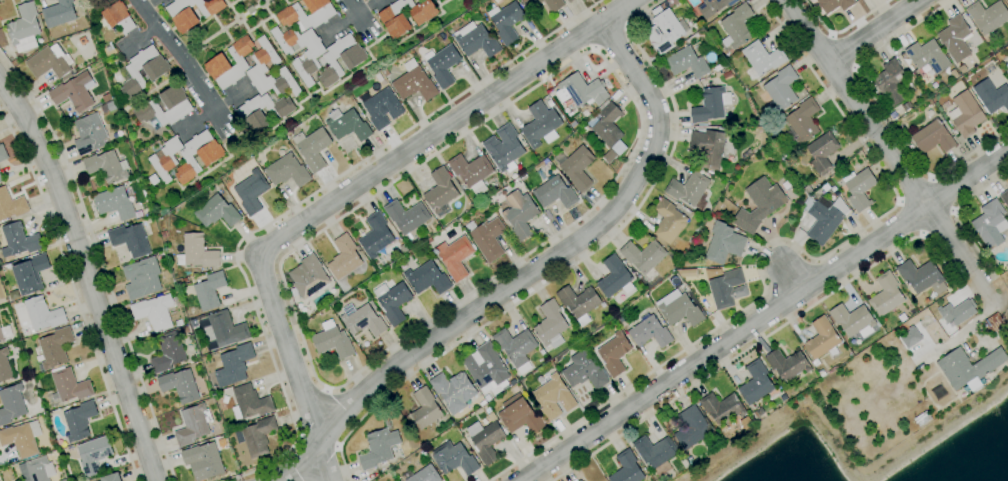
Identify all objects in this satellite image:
building: (436, 0)
building: (496, 1)
building: (569, 1)
building: (1007, 1)
road: (262, 2)
road: (148, 4)
building: (834, 4)
building: (554, 7)
building: (713, 7)
road: (231, 8)
building: (192, 12)
building: (59, 13)
road: (356, 13)
building: (987, 16)
building: (117, 18)
building: (303, 18)
road: (349, 18)
building: (393, 19)
building: (507, 21)
building: (736, 26)
road: (626, 27)
building: (25, 28)
road: (223, 29)
road: (840, 29)
road: (872, 30)
building: (665, 31)
road: (371, 35)
road: (609, 35)
road: (269, 36)
road: (141, 38)
building: (955, 38)
building: (476, 40)
road: (594, 48)
road: (591, 51)
road: (844, 51)
building: (927, 56)
building: (311, 57)
building: (762, 58)
road: (181, 59)
building: (340, 59)
building: (219, 60)
road: (371, 60)
building: (14, 62)
building: (50, 62)
building: (686, 62)
building: (443, 64)
building: (723, 65)
building: (261, 67)
building: (910, 67)
building: (1007, 68)
building: (962, 69)
building: (1007, 71)
building: (156, 72)
building: (385, 72)
building: (727, 75)
building: (414, 82)
building: (890, 82)
building: (781, 90)
building: (581, 91)
building: (74, 92)
building: (991, 96)
building: (107, 98)
building: (550, 102)
building: (710, 104)
building: (111, 106)
building: (180, 107)
building: (381, 107)
road: (215, 110)
building: (262, 112)
building: (586, 113)
road: (884, 113)
building: (965, 114)
building: (802, 122)
building: (607, 124)
building: (347, 125)
building: (541, 125)
road: (445, 126)
building: (90, 134)
building: (932, 137)
road: (883, 143)
building: (907, 143)
building: (911, 146)
building: (313, 148)
building: (504, 148)
building: (708, 148)
building: (822, 152)
building: (3, 153)
building: (198, 155)
building: (782, 156)
building: (165, 157)
building: (106, 166)
building: (578, 168)
building: (287, 171)
building: (472, 172)
building: (543, 172)
building: (1, 179)
building: (154, 180)
road: (912, 187)
building: (833, 188)
building: (859, 188)
building: (689, 189)
building: (807, 189)
building: (252, 192)
building: (440, 192)
building: (555, 192)
building: (836, 194)
road: (942, 195)
building: (1004, 197)
road: (298, 202)
building: (115, 203)
building: (11, 205)
building: (759, 205)
building: (217, 211)
building: (520, 213)
building: (406, 216)
road: (956, 216)
building: (823, 217)
road: (908, 218)
building: (668, 220)
road: (939, 224)
building: (990, 225)
building: (164, 234)
building: (376, 235)
building: (487, 238)
building: (19, 240)
building: (130, 240)
building: (428, 241)
road: (774, 242)
building: (723, 243)
building: (197, 252)
building: (643, 255)
building: (455, 257)
building: (344, 258)
road: (99, 260)
road: (573, 265)
building: (30, 274)
road: (526, 274)
road: (86, 276)
building: (309, 277)
building: (615, 277)
building: (921, 277)
building: (142, 278)
building: (427, 278)
road: (790, 279)
building: (728, 288)
building: (210, 290)
road: (75, 293)
building: (886, 295)
building: (393, 301)
building: (579, 302)
building: (602, 304)
building: (678, 308)
building: (154, 312)
building: (957, 312)
building: (43, 314)
road: (764, 316)
building: (363, 319)
building: (853, 320)
building: (179, 322)
building: (193, 323)
building: (551, 324)
building: (996, 325)
building: (227, 329)
building: (183, 330)
building: (650, 332)
road: (966, 332)
building: (5, 333)
building: (911, 338)
building: (333, 340)
road: (760, 340)
building: (822, 340)
building: (55, 347)
building: (516, 347)
building: (168, 352)
building: (614, 353)
building: (788, 363)
building: (4, 365)
building: (234, 365)
road: (294, 367)
building: (487, 368)
building: (968, 368)
building: (585, 370)
building: (822, 372)
building: (756, 382)
building: (69, 385)
building: (180, 385)
building: (454, 390)
road: (326, 391)
building: (554, 397)
building: (250, 402)
building: (482, 403)
building: (11, 404)
building: (723, 408)
building: (424, 410)
building: (488, 410)
building: (758, 412)
building: (519, 415)
building: (922, 418)
road: (330, 419)
building: (79, 420)
building: (193, 424)
building: (692, 427)
building: (257, 436)
building: (22, 438)
building: (486, 440)
building: (62, 442)
building: (380, 446)
road: (336, 447)
building: (423, 452)
building: (656, 452)
building: (94, 455)
building: (454, 458)
building: (203, 461)
road: (322, 464)
building: (627, 468)
building: (37, 470)
building: (422, 474)
building: (111, 477)
building: (580, 480)

